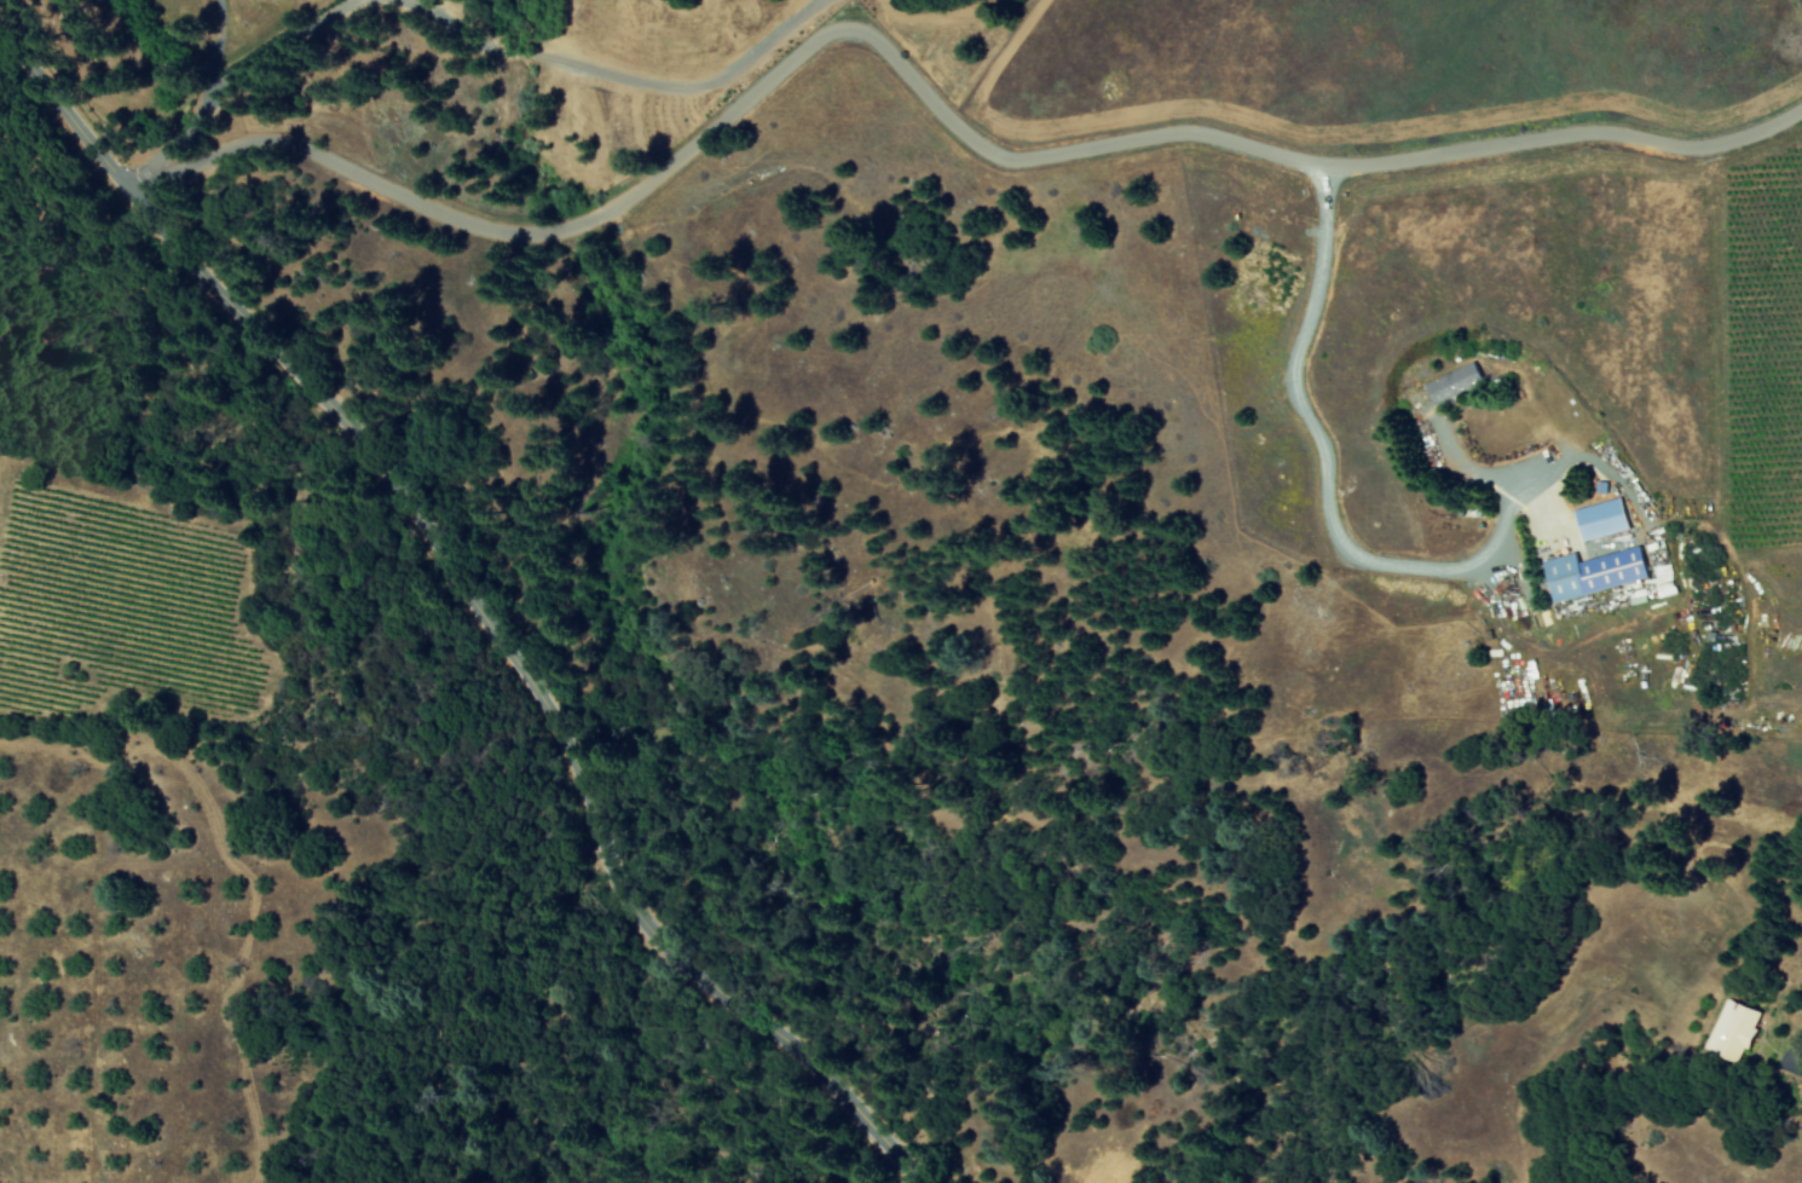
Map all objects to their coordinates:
road: (232, 34)
road: (620, 75)
road: (232, 79)
road: (931, 91)
crop: (1758, 333)
building: (1465, 385)
road: (1553, 508)
building: (1606, 520)
road: (1340, 535)
building: (1599, 573)
building: (1658, 575)
road: (497, 590)
building: (1743, 1028)
road: (1796, 1060)

